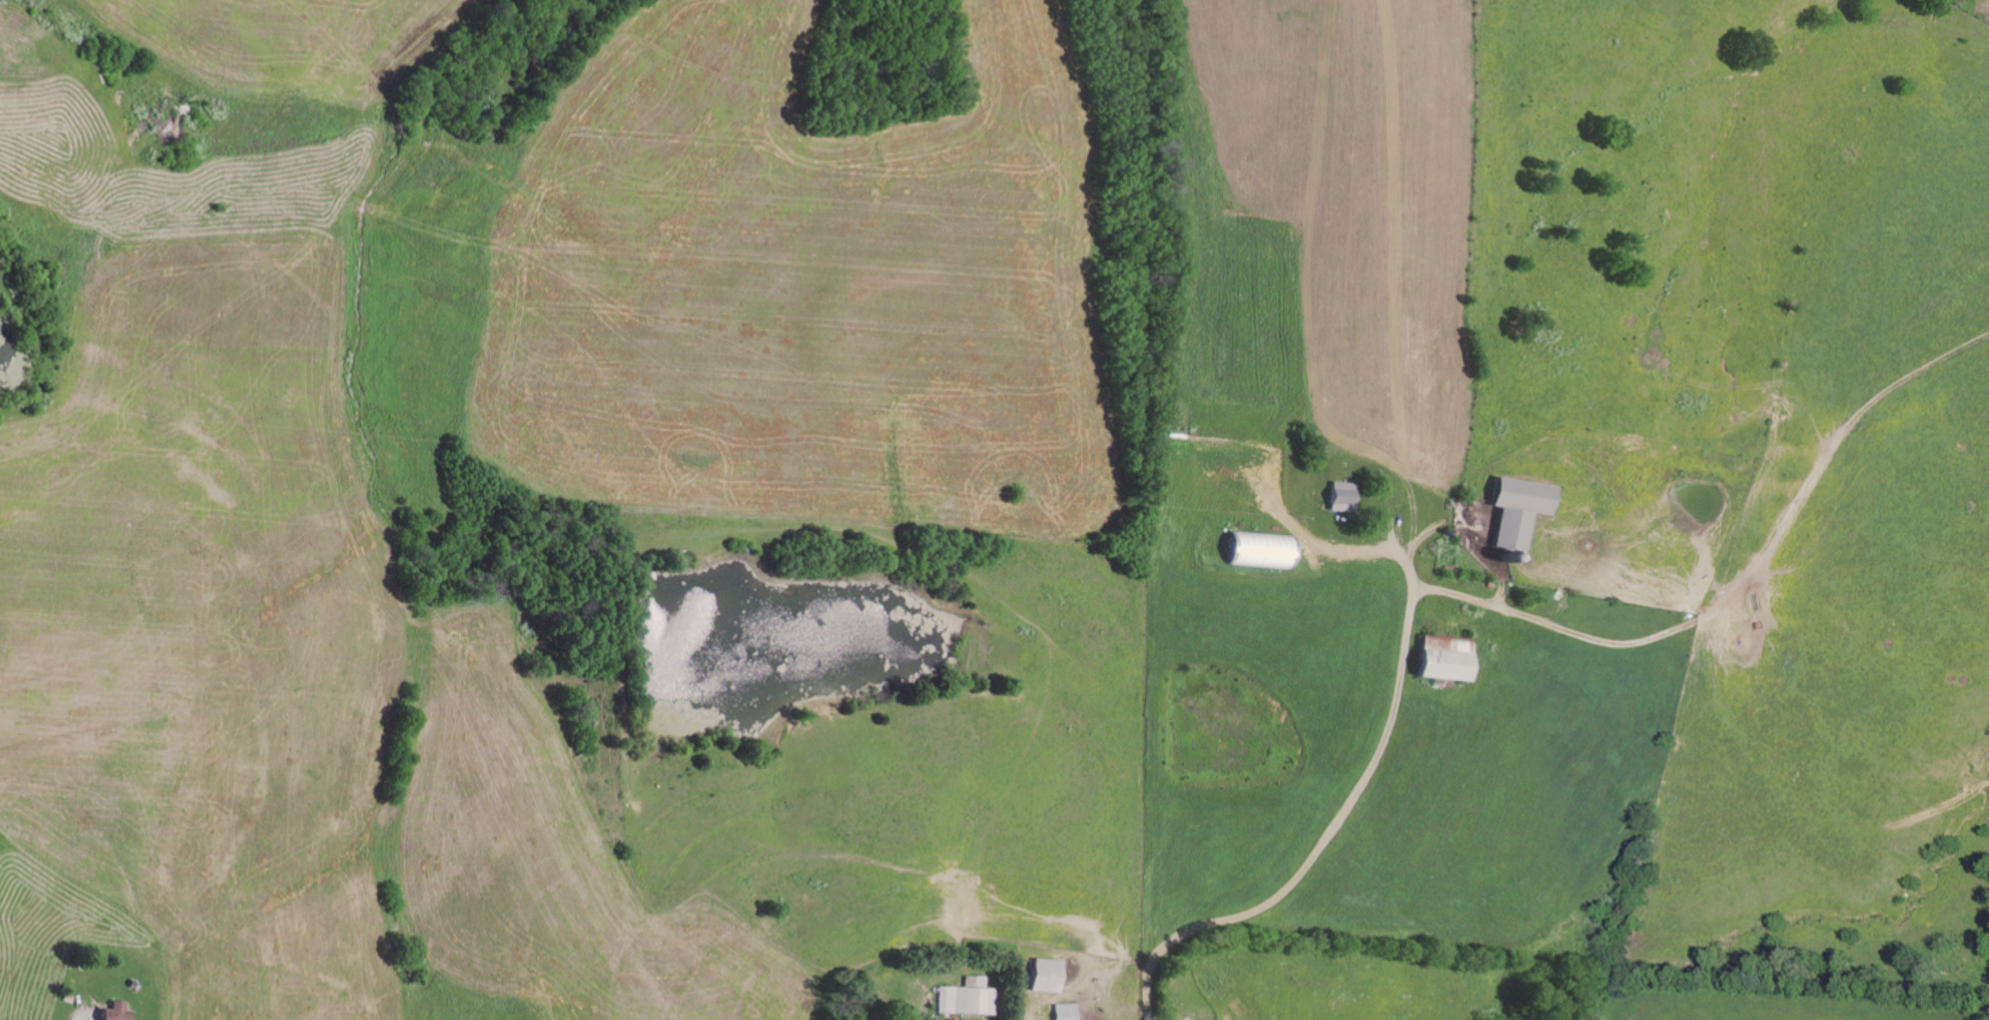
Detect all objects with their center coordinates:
building: (1343, 495)
building: (1518, 508)
building: (1262, 549)
building: (1445, 658)
building: (1045, 974)
building: (967, 996)
building: (117, 1011)
building: (1063, 1011)

